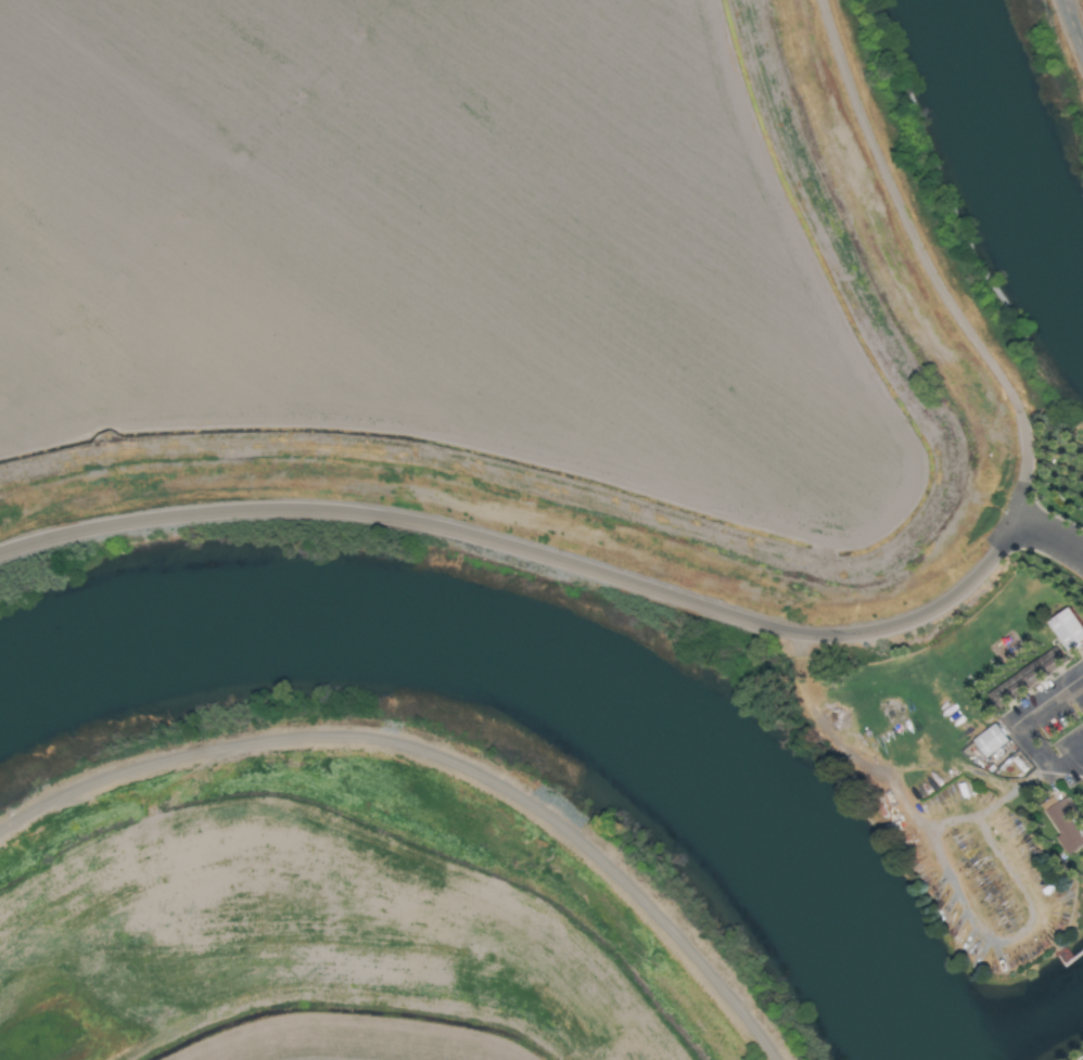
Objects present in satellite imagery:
road: (1074, 22)
road: (903, 208)
crop: (505, 294)
road: (1033, 456)
road: (728, 513)
road: (1053, 526)
road: (539, 553)
building: (1066, 629)
building: (1024, 677)
parking lot: (1053, 726)
road: (1019, 728)
building: (990, 741)
road: (952, 766)
road: (948, 822)
building: (1062, 826)
road: (952, 891)
crop: (318, 912)

